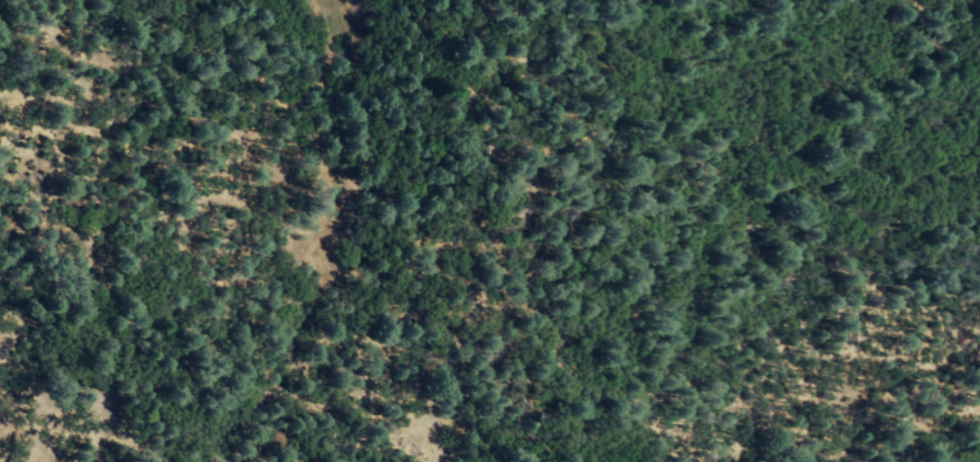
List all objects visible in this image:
road: (319, 6)

